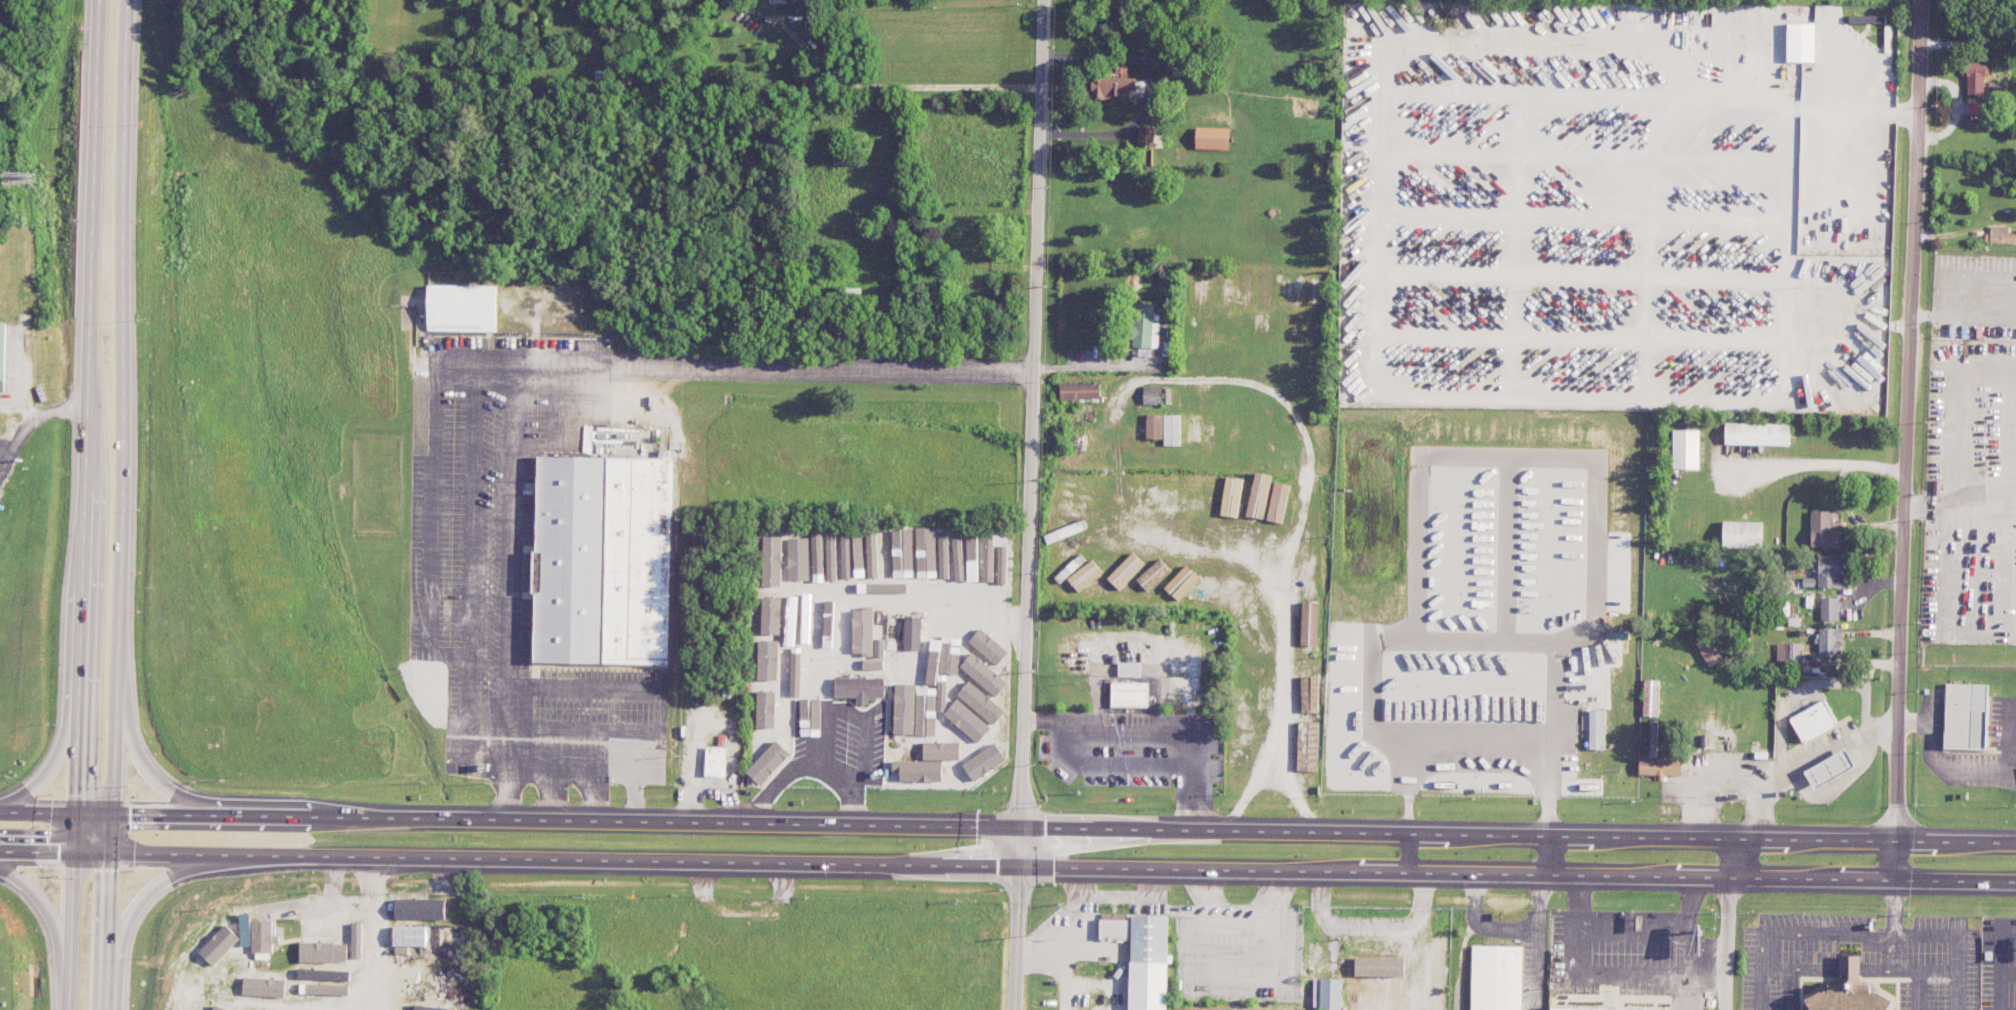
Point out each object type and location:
building: (1866, 19)
road: (299, 21)
building: (1800, 42)
road: (897, 87)
building: (1972, 107)
building: (1305, 108)
road: (1873, 113)
building: (1145, 136)
building: (1211, 138)
building: (854, 159)
building: (2001, 235)
building: (462, 308)
building: (1144, 326)
road: (89, 335)
building: (2, 355)
road: (546, 365)
road: (1091, 367)
building: (1079, 390)
building: (1152, 395)
road: (1031, 414)
road: (30, 421)
road: (121, 426)
building: (1154, 426)
building: (1194, 428)
building: (1172, 429)
building: (1757, 433)
road: (1906, 439)
building: (1685, 449)
road: (1517, 452)
road: (1817, 463)
building: (1231, 496)
building: (1278, 502)
road: (1301, 510)
building: (1823, 530)
building: (1742, 534)
building: (935, 552)
building: (836, 555)
building: (858, 556)
building: (872, 556)
building: (957, 556)
building: (994, 559)
building: (602, 560)
building: (800, 560)
building: (1126, 570)
building: (1829, 571)
building: (1153, 574)
building: (1084, 575)
building: (1182, 582)
road: (878, 595)
building: (1828, 608)
building: (771, 615)
building: (1309, 623)
building: (912, 633)
building: (865, 634)
road: (1450, 636)
building: (797, 637)
building: (1829, 642)
building: (990, 645)
building: (1708, 650)
building: (771, 661)
building: (873, 664)
building: (1129, 669)
building: (983, 674)
building: (1265, 687)
building: (860, 688)
building: (1129, 694)
building: (1308, 695)
building: (1651, 698)
building: (982, 704)
building: (766, 708)
building: (917, 708)
building: (1965, 715)
building: (1813, 721)
building: (973, 726)
building: (1594, 729)
road: (823, 740)
road: (1497, 743)
building: (1307, 746)
building: (942, 750)
road: (60, 752)
building: (716, 761)
building: (771, 761)
building: (984, 762)
road: (812, 766)
building: (1660, 767)
road: (595, 768)
building: (1829, 768)
road: (145, 770)
building: (919, 770)
road: (1271, 774)
road: (596, 794)
road: (555, 795)
traffic signals: (75, 813)
traffic signals: (112, 814)
road: (1007, 827)
traffic signals: (1018, 828)
road: (73, 840)
road: (54, 853)
road: (1406, 853)
traffic signals: (73, 854)
traffic signals: (110, 854)
traffic signals: (1018, 866)
road: (1063, 866)
road: (141, 897)
road: (1894, 906)
building: (420, 909)
building: (1112, 915)
road: (1017, 919)
road: (1725, 923)
road: (55, 926)
building: (1113, 929)
road: (1503, 930)
road: (1790, 930)
road: (107, 932)
road: (1941, 934)
building: (357, 936)
road: (1634, 936)
building: (408, 938)
building: (262, 939)
road: (1698, 947)
building: (325, 950)
road: (1891, 951)
road: (1061, 956)
building: (1147, 963)
building: (1379, 967)
road: (1872, 968)
building: (1496, 977)
building: (311, 979)
building: (264, 987)
road: (1786, 989)
road: (1958, 989)
building: (187, 991)
building: (1848, 991)
building: (1329, 994)
building: (424, 1004)
building: (1605, 1005)
building: (220, 1007)
building: (269, 1009)

